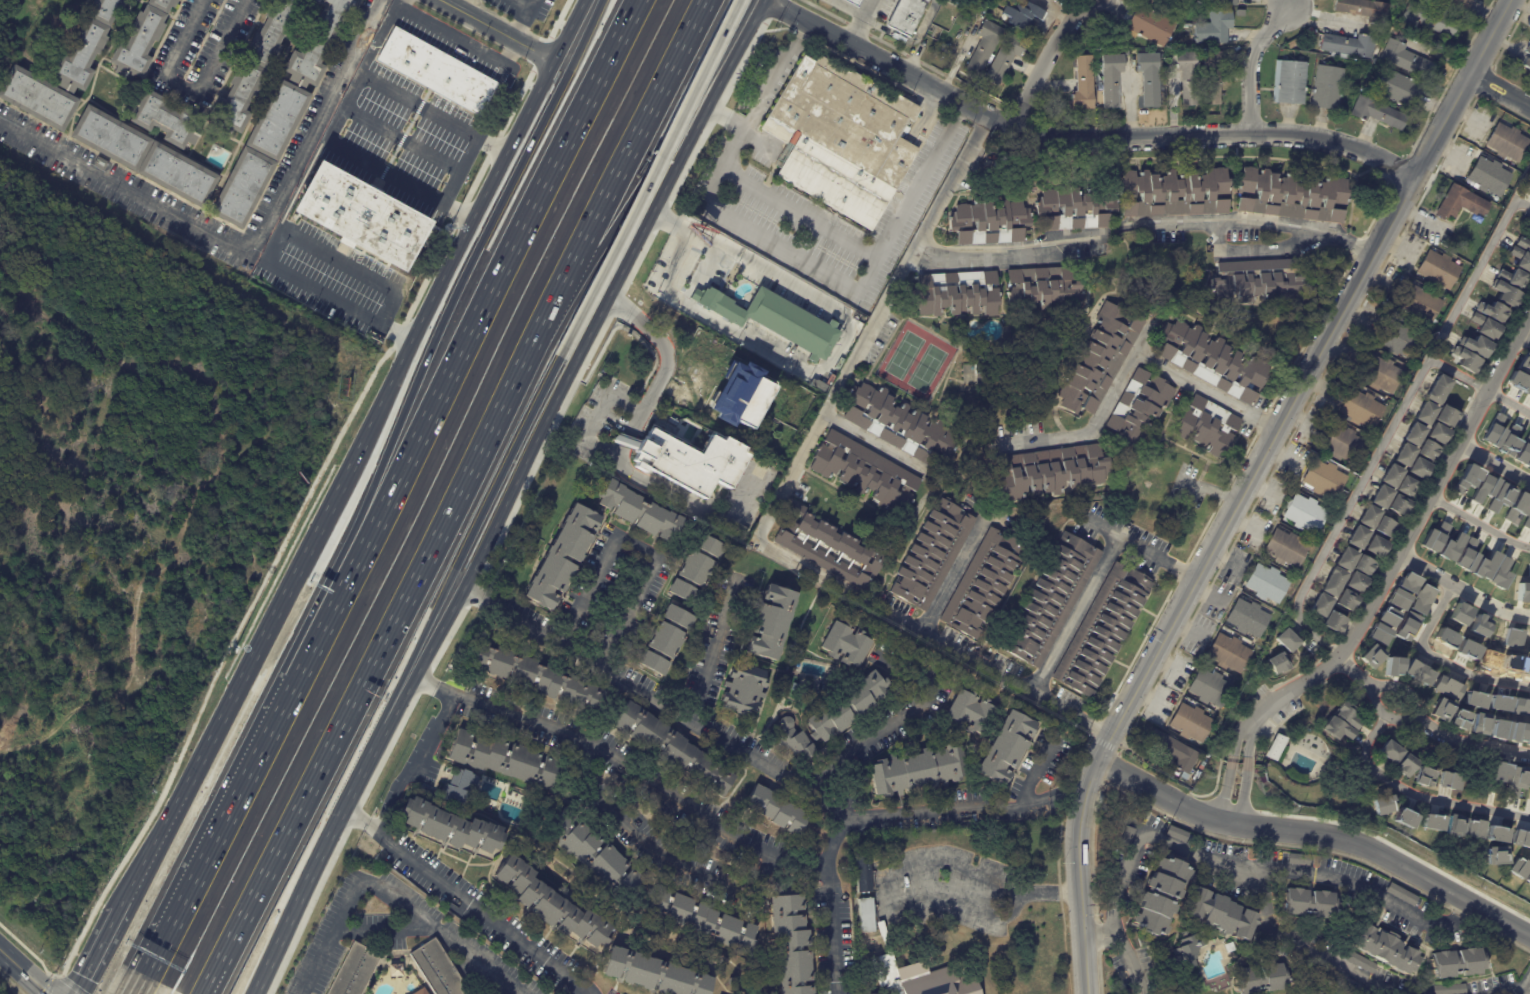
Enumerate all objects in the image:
building: (853, 2)
building: (1221, 2)
gas station: (849, 3)
road: (526, 6)
building: (1452, 6)
building: (1364, 10)
building: (1239, 13)
building: (906, 15)
building: (1021, 15)
building: (1429, 20)
road: (859, 21)
road: (521, 22)
building: (1149, 26)
road: (500, 29)
road: (569, 30)
building: (1212, 30)
road: (380, 37)
building: (145, 38)
road: (463, 42)
building: (1348, 46)
building: (983, 47)
building: (1004, 59)
building: (1526, 59)
building: (1407, 60)
road: (1043, 62)
road: (1249, 63)
building: (257, 68)
building: (67, 71)
building: (441, 71)
road: (775, 77)
building: (1211, 77)
building: (1187, 78)
building: (1148, 79)
building: (302, 80)
building: (1110, 81)
building: (1289, 83)
building: (1083, 85)
road: (188, 88)
building: (1327, 89)
road: (1499, 89)
building: (1398, 90)
road: (345, 107)
road: (706, 107)
building: (1377, 114)
building: (167, 118)
road: (1077, 137)
building: (115, 138)
building: (841, 138)
building: (1507, 142)
road: (418, 147)
road: (467, 151)
road: (625, 158)
road: (655, 162)
building: (103, 163)
building: (182, 174)
building: (1081, 175)
building: (1489, 176)
road: (647, 178)
road: (920, 178)
building: (1527, 181)
building: (248, 186)
road: (760, 192)
building: (1173, 192)
building: (1291, 195)
building: (1461, 203)
building: (1072, 209)
building: (368, 216)
road: (1253, 219)
building: (989, 221)
road: (272, 244)
building: (1523, 244)
road: (1256, 248)
road: (457, 250)
road: (783, 251)
road: (249, 254)
road: (984, 256)
building: (1521, 259)
building: (1438, 269)
road: (1475, 273)
building: (1514, 278)
building: (1258, 281)
road: (458, 288)
building: (1041, 288)
building: (953, 293)
building: (1507, 293)
road: (490, 294)
building: (1420, 303)
building: (1494, 311)
building: (773, 319)
building: (1486, 327)
road: (1524, 334)
building: (1400, 339)
building: (1476, 346)
park: (904, 356)
building: (1097, 359)
building: (1211, 360)
building: (1467, 360)
building: (1524, 363)
road: (799, 366)
road: (1127, 367)
park: (927, 369)
road: (1457, 373)
building: (1381, 374)
building: (1517, 381)
building: (1437, 390)
building: (1528, 391)
building: (740, 394)
road: (1507, 401)
building: (1138, 408)
building: (1362, 409)
road: (595, 412)
building: (1424, 412)
road: (544, 415)
building: (1445, 415)
building: (899, 425)
building: (1207, 426)
building: (1492, 430)
building: (1412, 434)
building: (1437, 434)
building: (1508, 441)
road: (875, 442)
building: (1343, 444)
building: (1427, 451)
building: (1523, 451)
building: (1403, 454)
building: (691, 461)
road: (1492, 462)
building: (1529, 466)
building: (1417, 468)
building: (1048, 471)
building: (864, 472)
building: (1390, 476)
building: (1465, 478)
building: (1323, 479)
road: (1245, 484)
building: (1407, 487)
building: (1482, 487)
road: (1209, 489)
building: (1499, 495)
building: (1380, 496)
road: (775, 501)
building: (1397, 505)
building: (1516, 506)
building: (635, 508)
road: (1346, 510)
building: (1304, 513)
building: (1367, 517)
building: (1526, 519)
road: (1478, 524)
building: (1384, 527)
road: (1409, 535)
building: (1433, 536)
building: (1357, 537)
road: (468, 539)
road: (1149, 546)
building: (1375, 546)
building: (1450, 546)
road: (638, 548)
building: (1286, 548)
building: (827, 549)
building: (1465, 554)
building: (930, 555)
building: (560, 556)
building: (1345, 559)
building: (1482, 565)
building: (1364, 566)
building: (694, 567)
road: (1425, 568)
building: (1499, 571)
road: (951, 575)
building: (983, 581)
building: (1332, 581)
building: (1355, 582)
building: (1408, 582)
building: (1266, 583)
building: (1524, 591)
building: (1397, 598)
building: (1419, 598)
building: (1049, 600)
building: (1346, 600)
road: (1489, 600)
building: (1320, 605)
building: (1459, 614)
building: (1387, 616)
building: (1247, 618)
road: (1071, 621)
building: (770, 622)
building: (1335, 622)
building: (1403, 625)
building: (1479, 625)
building: (1101, 630)
building: (1378, 633)
building: (1515, 637)
building: (663, 639)
building: (1286, 640)
building: (844, 644)
road: (1421, 645)
building: (1529, 645)
road: (712, 651)
building: (1228, 653)
building: (1369, 654)
road: (376, 656)
road: (247, 663)
building: (1277, 663)
building: (1417, 671)
road: (1358, 674)
building: (530, 676)
road: (1506, 681)
building: (1446, 687)
building: (1209, 688)
building: (743, 690)
road: (1380, 690)
building: (1474, 698)
building: (1521, 706)
building: (844, 708)
building: (1439, 708)
building: (966, 712)
building: (1346, 716)
building: (1459, 717)
road: (898, 719)
building: (1190, 723)
building: (1478, 723)
building: (1335, 729)
building: (1528, 737)
road: (33, 739)
building: (793, 741)
road: (1235, 741)
road: (1463, 741)
road: (1248, 743)
road: (727, 746)
building: (670, 747)
building: (1004, 748)
building: (1274, 748)
building: (1389, 750)
building: (1173, 751)
building: (507, 761)
road: (621, 764)
road: (415, 765)
building: (1405, 765)
road: (1037, 767)
building: (915, 770)
building: (1422, 776)
building: (1447, 780)
building: (1514, 780)
building: (1528, 781)
road: (244, 783)
building: (465, 788)
road: (1225, 791)
road: (1418, 793)
road: (1244, 794)
road: (1049, 801)
road: (343, 804)
building: (1381, 804)
building: (775, 810)
building: (1145, 815)
building: (1401, 818)
building: (1430, 822)
building: (451, 825)
building: (1453, 826)
building: (1472, 829)
building: (1176, 833)
road: (1316, 834)
building: (1493, 834)
building: (1126, 836)
building: (1519, 840)
building: (591, 854)
building: (1492, 856)
building: (1297, 858)
road: (1228, 861)
road: (678, 864)
building: (1514, 868)
building: (863, 874)
building: (1526, 878)
parking lot: (945, 888)
building: (1400, 893)
road: (1048, 895)
building: (1160, 895)
road: (888, 896)
road: (463, 901)
building: (549, 902)
building: (1306, 902)
road: (828, 903)
building: (1218, 912)
road: (416, 914)
building: (865, 915)
building: (702, 919)
road: (344, 929)
road: (1097, 929)
road: (101, 939)
building: (789, 944)
building: (1229, 947)
road: (1309, 947)
building: (1382, 947)
building: (1187, 951)
building: (1355, 958)
building: (1456, 962)
building: (399, 969)
building: (441, 969)
building: (358, 970)
road: (23, 972)
building: (652, 973)
building: (915, 976)
building: (1258, 978)
road: (142, 985)
building: (1449, 988)
building: (424, 991)
road: (1516, 991)
building: (1314, 992)
building: (878, 993)
road: (1511, 993)

